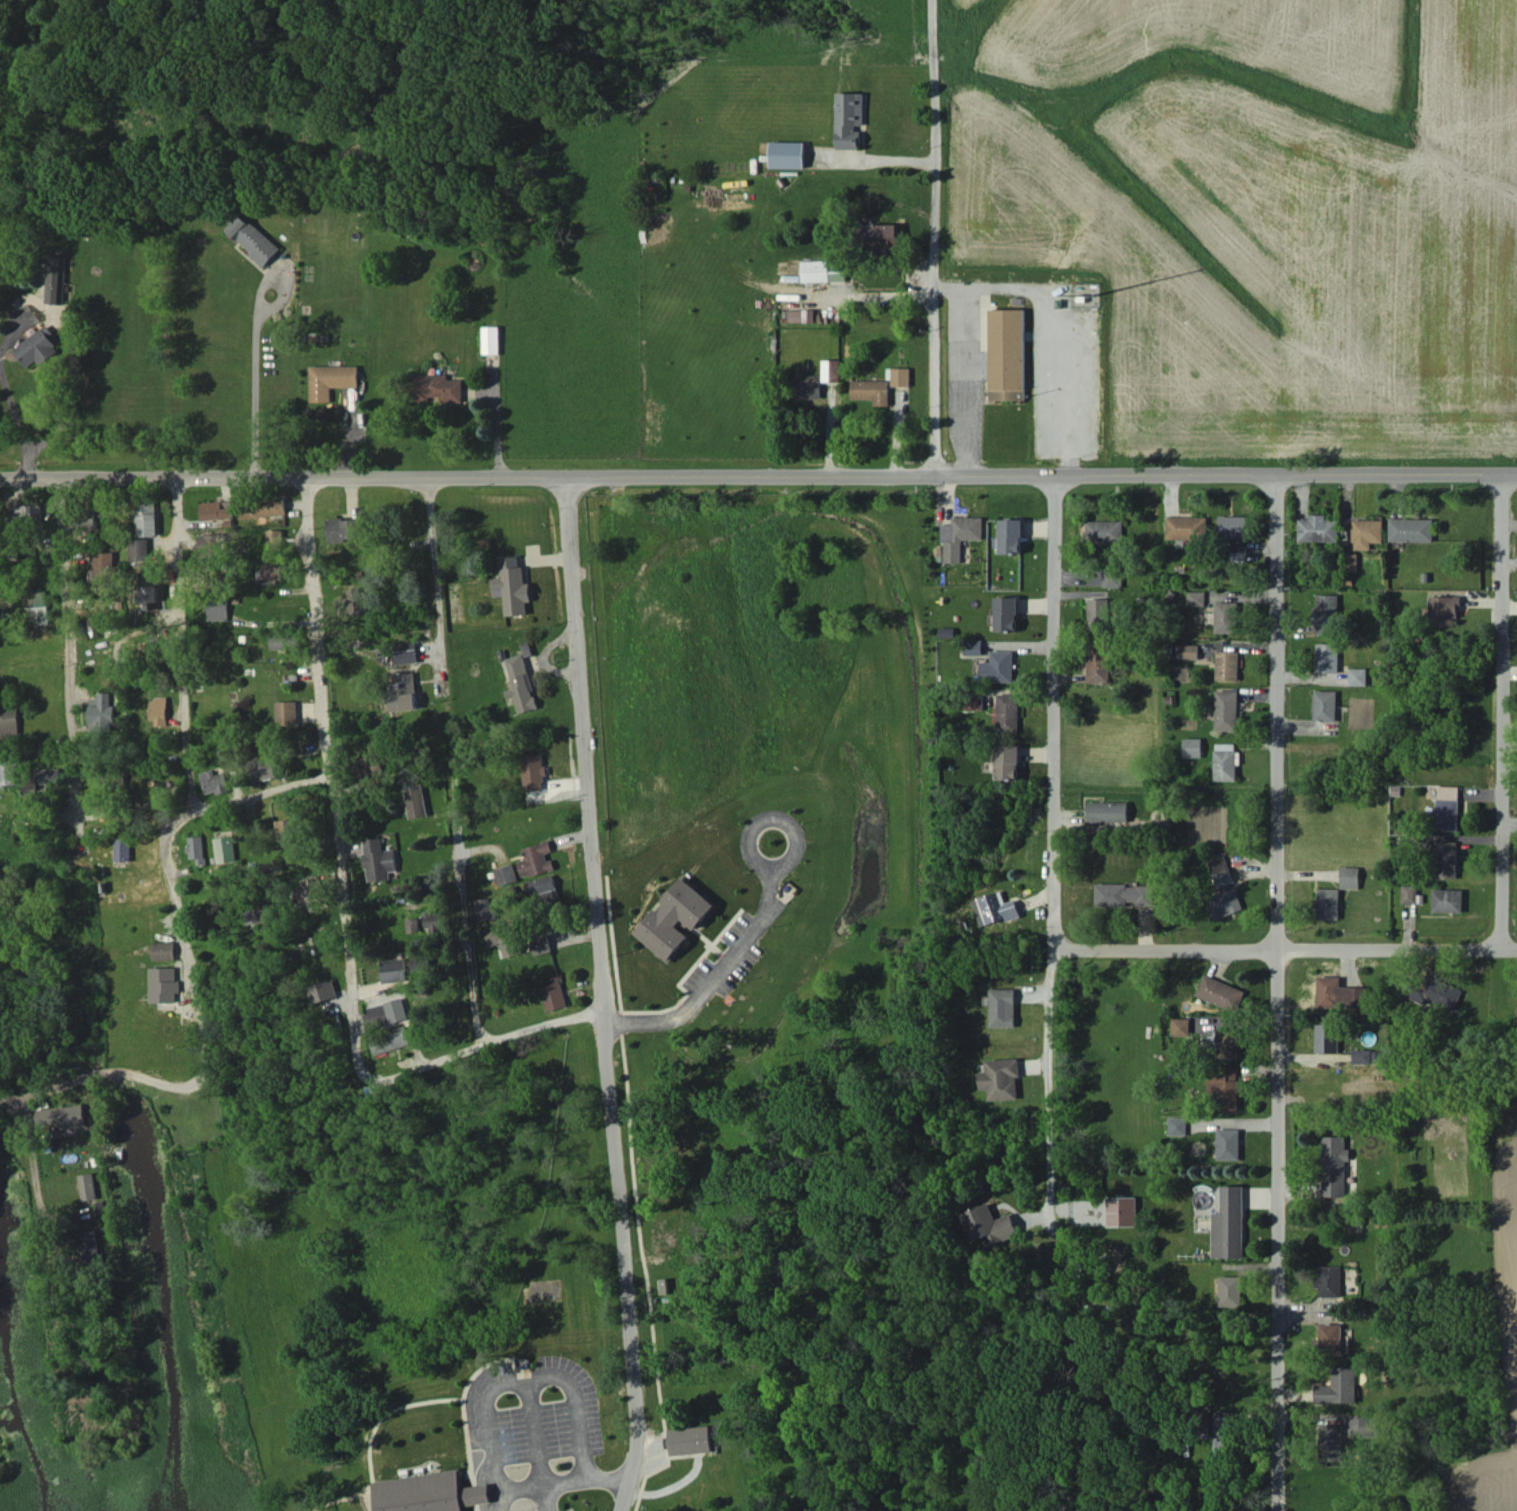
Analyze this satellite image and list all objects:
building: (849, 119)
building: (788, 154)
road: (885, 159)
building: (882, 237)
road: (935, 237)
building: (252, 239)
building: (824, 270)
building: (56, 279)
building: (800, 315)
building: (490, 339)
road: (1055, 343)
building: (37, 347)
building: (1007, 354)
road: (68, 356)
road: (966, 367)
building: (831, 370)
building: (901, 376)
building: (331, 380)
road: (254, 384)
building: (809, 386)
building: (437, 387)
building: (872, 390)
road: (10, 413)
road: (491, 428)
road: (20, 462)
road: (758, 477)
building: (266, 507)
building: (218, 511)
building: (24, 515)
building: (147, 517)
building: (91, 518)
building: (1187, 527)
building: (1232, 527)
building: (345, 529)
building: (1318, 529)
building: (1412, 530)
building: (1105, 531)
building: (1367, 533)
building: (960, 536)
building: (1011, 536)
building: (275, 538)
building: (213, 541)
building: (140, 549)
building: (1238, 553)
building: (1353, 562)
building: (104, 566)
building: (271, 570)
building: (1113, 577)
building: (512, 586)
building: (152, 594)
building: (1197, 598)
building: (351, 603)
building: (39, 607)
building: (219, 608)
building: (1445, 610)
building: (1007, 613)
building: (1099, 614)
building: (1327, 614)
building: (1226, 616)
building: (283, 640)
road: (176, 642)
building: (973, 647)
building: (1190, 651)
building: (405, 652)
building: (1327, 657)
building: (1100, 663)
building: (1228, 665)
building: (998, 667)
building: (1358, 676)
building: (520, 684)
building: (403, 691)
road: (64, 697)
building: (975, 700)
building: (1325, 705)
building: (1227, 710)
road: (1500, 710)
building: (160, 711)
building: (287, 711)
building: (1009, 711)
building: (101, 712)
road: (1053, 713)
building: (9, 721)
building: (1193, 747)
road: (449, 761)
building: (1009, 761)
building: (1226, 762)
building: (372, 766)
building: (263, 768)
building: (7, 771)
building: (533, 772)
road: (324, 778)
building: (213, 782)
road: (253, 795)
building: (416, 801)
building: (1447, 807)
building: (1108, 811)
building: (287, 832)
building: (196, 848)
building: (122, 849)
building: (225, 849)
building: (536, 859)
building: (1446, 859)
building: (379, 860)
building: (1221, 871)
building: (506, 874)
building: (1349, 877)
building: (542, 889)
building: (312, 892)
building: (1409, 894)
building: (1125, 895)
building: (1447, 900)
building: (1225, 903)
building: (1328, 903)
building: (996, 908)
building: (485, 909)
road: (120, 911)
building: (259, 912)
building: (676, 917)
building: (413, 924)
building: (504, 938)
building: (541, 944)
road: (1285, 948)
building: (163, 950)
road: (184, 964)
road: (723, 966)
building: (395, 970)
building: (163, 984)
building: (323, 990)
building: (555, 993)
building: (1221, 993)
road: (1277, 993)
building: (1340, 993)
building: (1434, 993)
road: (604, 996)
building: (1003, 1007)
building: (397, 1009)
building: (1181, 1026)
building: (1327, 1038)
building: (391, 1040)
building: (1228, 1042)
building: (1366, 1055)
road: (397, 1066)
road: (111, 1070)
building: (1002, 1079)
road: (1048, 1083)
building: (1225, 1088)
road: (10, 1093)
building: (62, 1117)
building: (1177, 1125)
building: (1228, 1144)
building: (1334, 1166)
building: (87, 1186)
building: (1122, 1211)
building: (1229, 1224)
building: (991, 1225)
building: (89, 1247)
road: (46, 1249)
building: (1329, 1281)
road: (229, 1290)
building: (1231, 1291)
building: (1331, 1339)
building: (1338, 1387)
road: (577, 1404)
road: (491, 1419)
building: (1368, 1425)
road: (534, 1431)
building: (1227, 1431)
building: (690, 1440)
building: (1332, 1442)
road: (608, 1478)
road: (564, 1481)
road: (521, 1488)
building: (431, 1493)
road: (548, 1498)
road: (501, 1501)

